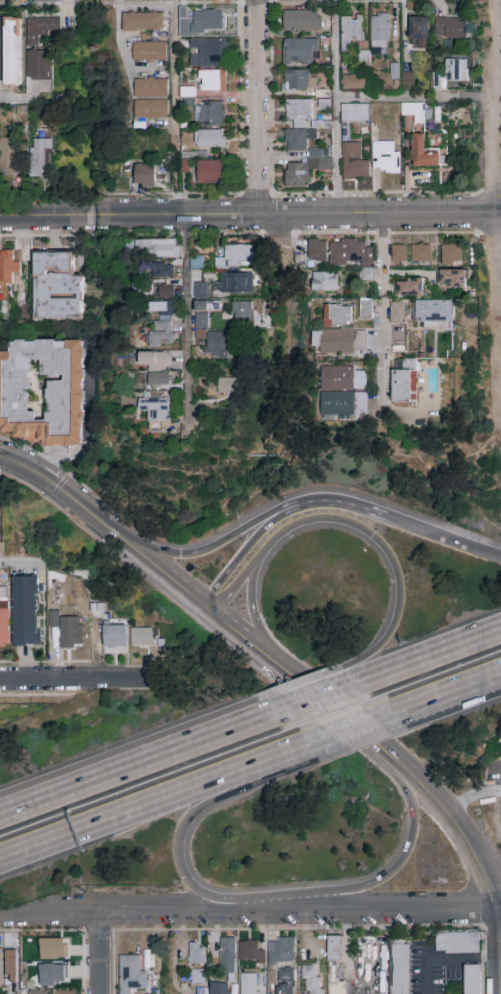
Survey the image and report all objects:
building: (303, 21)
building: (202, 22)
building: (144, 23)
building: (449, 28)
building: (353, 30)
building: (420, 30)
building: (380, 31)
road: (119, 40)
building: (33, 41)
building: (14, 52)
building: (149, 52)
building: (300, 52)
building: (209, 53)
building: (453, 70)
road: (175, 72)
building: (395, 72)
building: (407, 79)
building: (212, 81)
building: (297, 82)
building: (354, 82)
building: (150, 88)
road: (495, 96)
road: (389, 98)
road: (469, 99)
road: (21, 100)
road: (257, 108)
road: (335, 108)
building: (150, 110)
building: (408, 110)
building: (20, 113)
building: (209, 114)
building: (355, 114)
building: (299, 125)
building: (209, 139)
building: (424, 153)
building: (9, 157)
building: (39, 158)
building: (385, 158)
building: (354, 161)
building: (209, 172)
building: (144, 175)
building: (297, 175)
road: (496, 216)
road: (250, 217)
road: (498, 244)
building: (158, 249)
building: (317, 250)
building: (451, 253)
building: (398, 254)
building: (421, 254)
building: (236, 257)
building: (353, 257)
building: (197, 263)
building: (10, 267)
building: (166, 271)
building: (452, 279)
building: (325, 282)
building: (237, 284)
building: (56, 288)
building: (411, 288)
building: (201, 290)
building: (166, 291)
building: (366, 309)
building: (433, 312)
building: (397, 313)
building: (243, 314)
building: (337, 316)
building: (203, 317)
road: (382, 317)
road: (186, 322)
building: (162, 325)
road: (290, 336)
building: (340, 341)
building: (217, 349)
building: (153, 360)
building: (344, 378)
building: (157, 379)
building: (405, 383)
building: (226, 386)
building: (65, 394)
building: (345, 404)
building: (156, 408)
road: (500, 431)
road: (55, 466)
road: (60, 490)
road: (335, 503)
road: (368, 537)
road: (442, 541)
building: (1, 549)
road: (202, 553)
road: (241, 556)
road: (19, 563)
road: (164, 574)
building: (25, 610)
building: (4, 618)
building: (54, 619)
road: (255, 620)
building: (70, 633)
building: (116, 636)
building: (142, 637)
road: (246, 641)
road: (414, 660)
road: (45, 663)
road: (79, 680)
road: (38, 695)
road: (446, 698)
road: (307, 700)
road: (328, 708)
road: (366, 728)
road: (235, 729)
road: (92, 786)
road: (470, 797)
road: (170, 806)
road: (448, 819)
road: (190, 820)
road: (402, 859)
road: (250, 905)
building: (458, 943)
building: (53, 949)
building: (335, 949)
road: (497, 950)
building: (282, 951)
road: (100, 952)
building: (250, 952)
building: (197, 954)
building: (228, 956)
building: (11, 966)
building: (1, 968)
building: (400, 969)
building: (131, 974)
building: (53, 975)
building: (198, 976)
building: (286, 976)
building: (472, 980)
building: (312, 981)
building: (249, 984)
building: (220, 988)
building: (337, 988)
building: (65, 990)
building: (39, 992)

